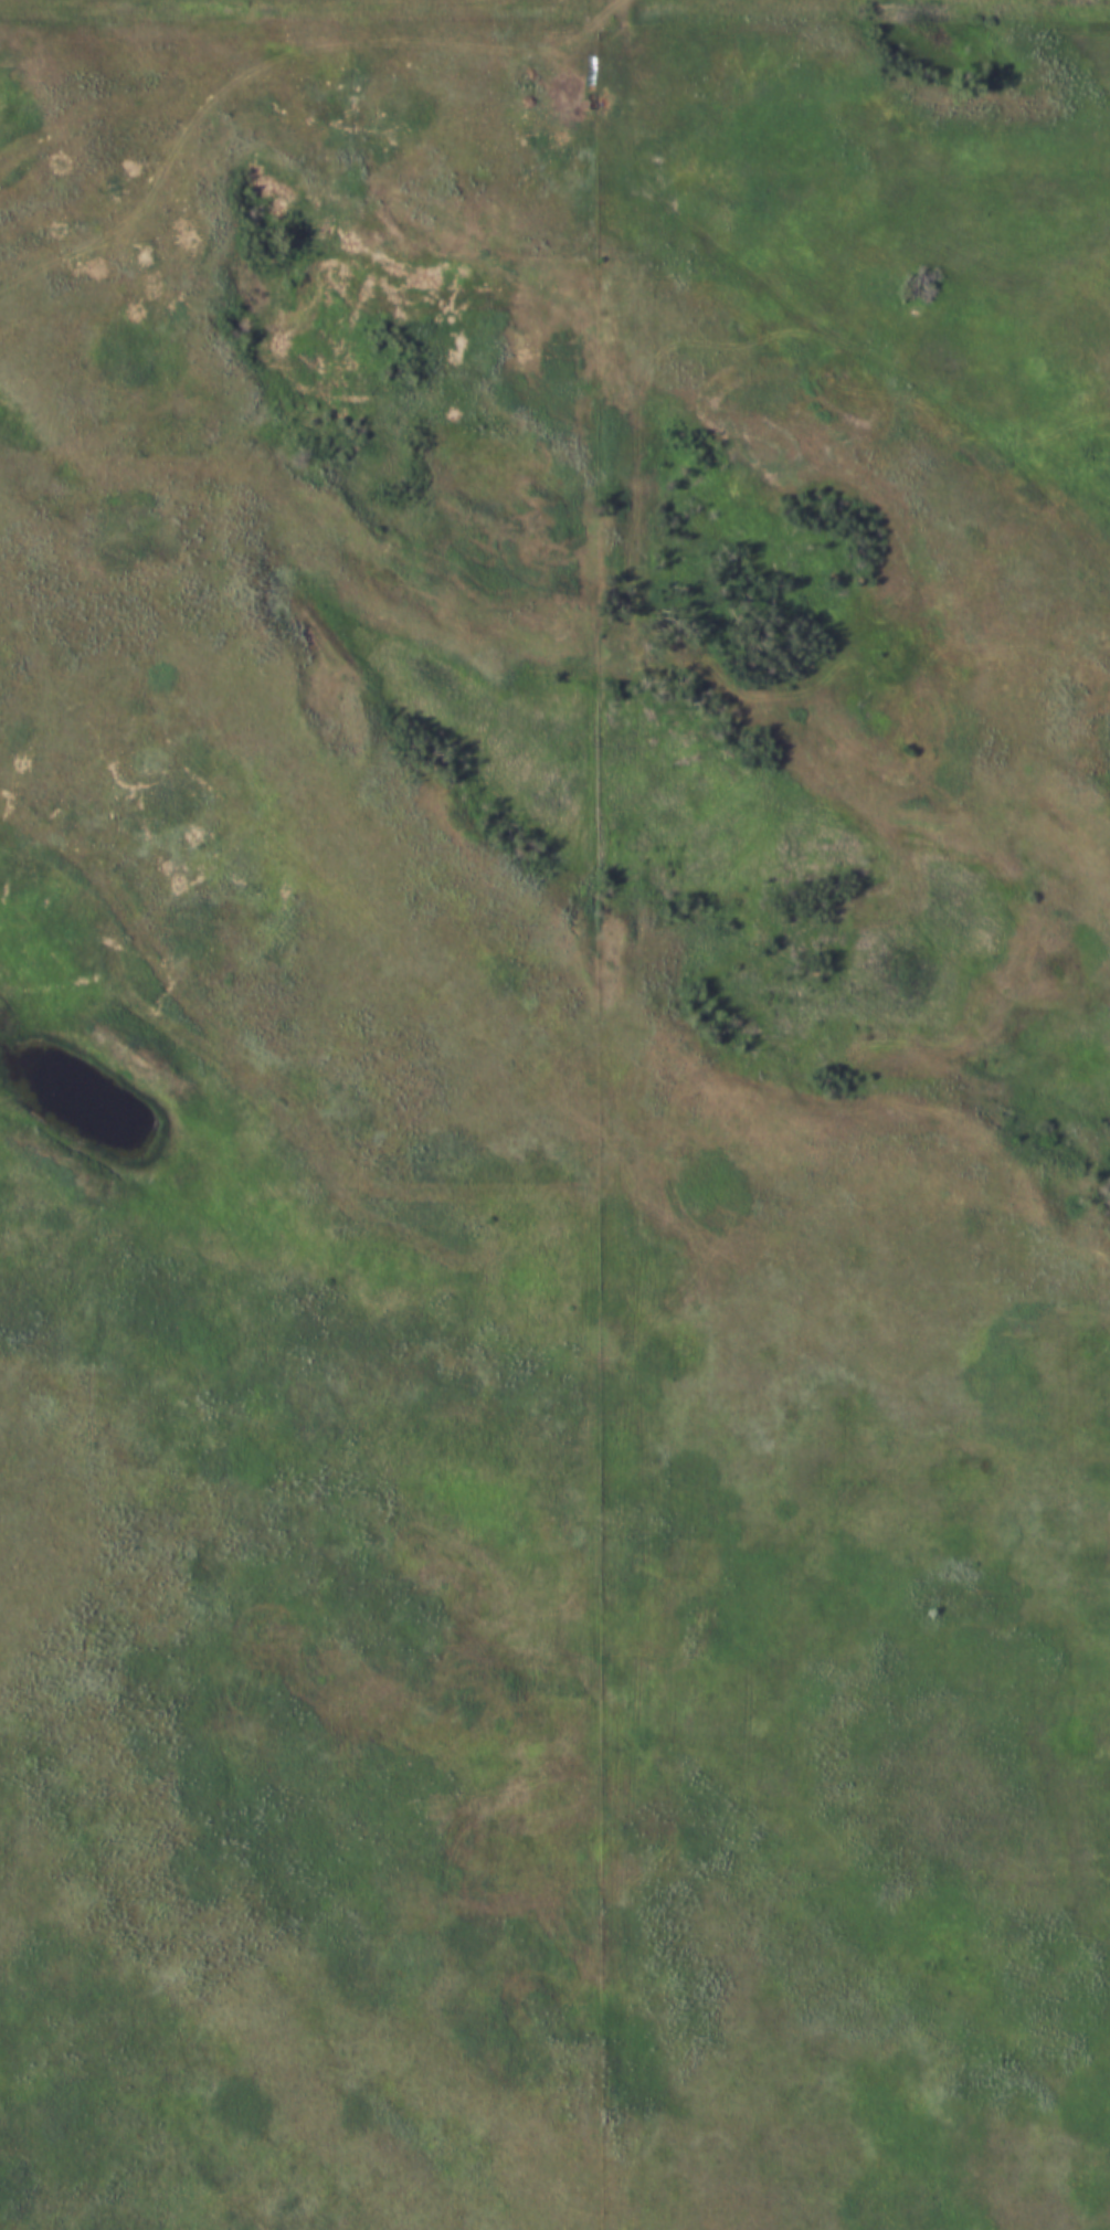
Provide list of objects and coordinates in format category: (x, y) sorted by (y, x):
road: (634, 1114)

